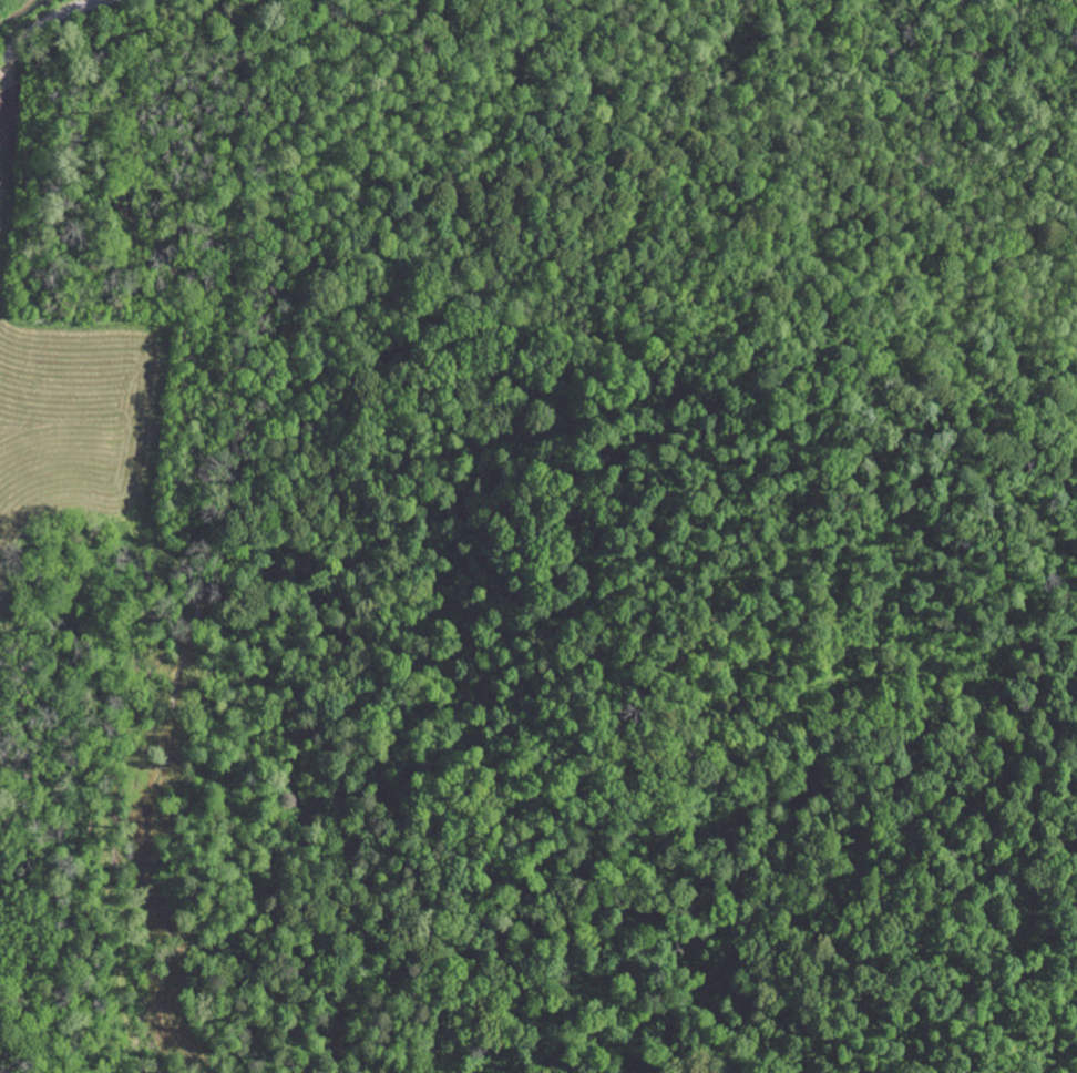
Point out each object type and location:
road: (55, 18)

